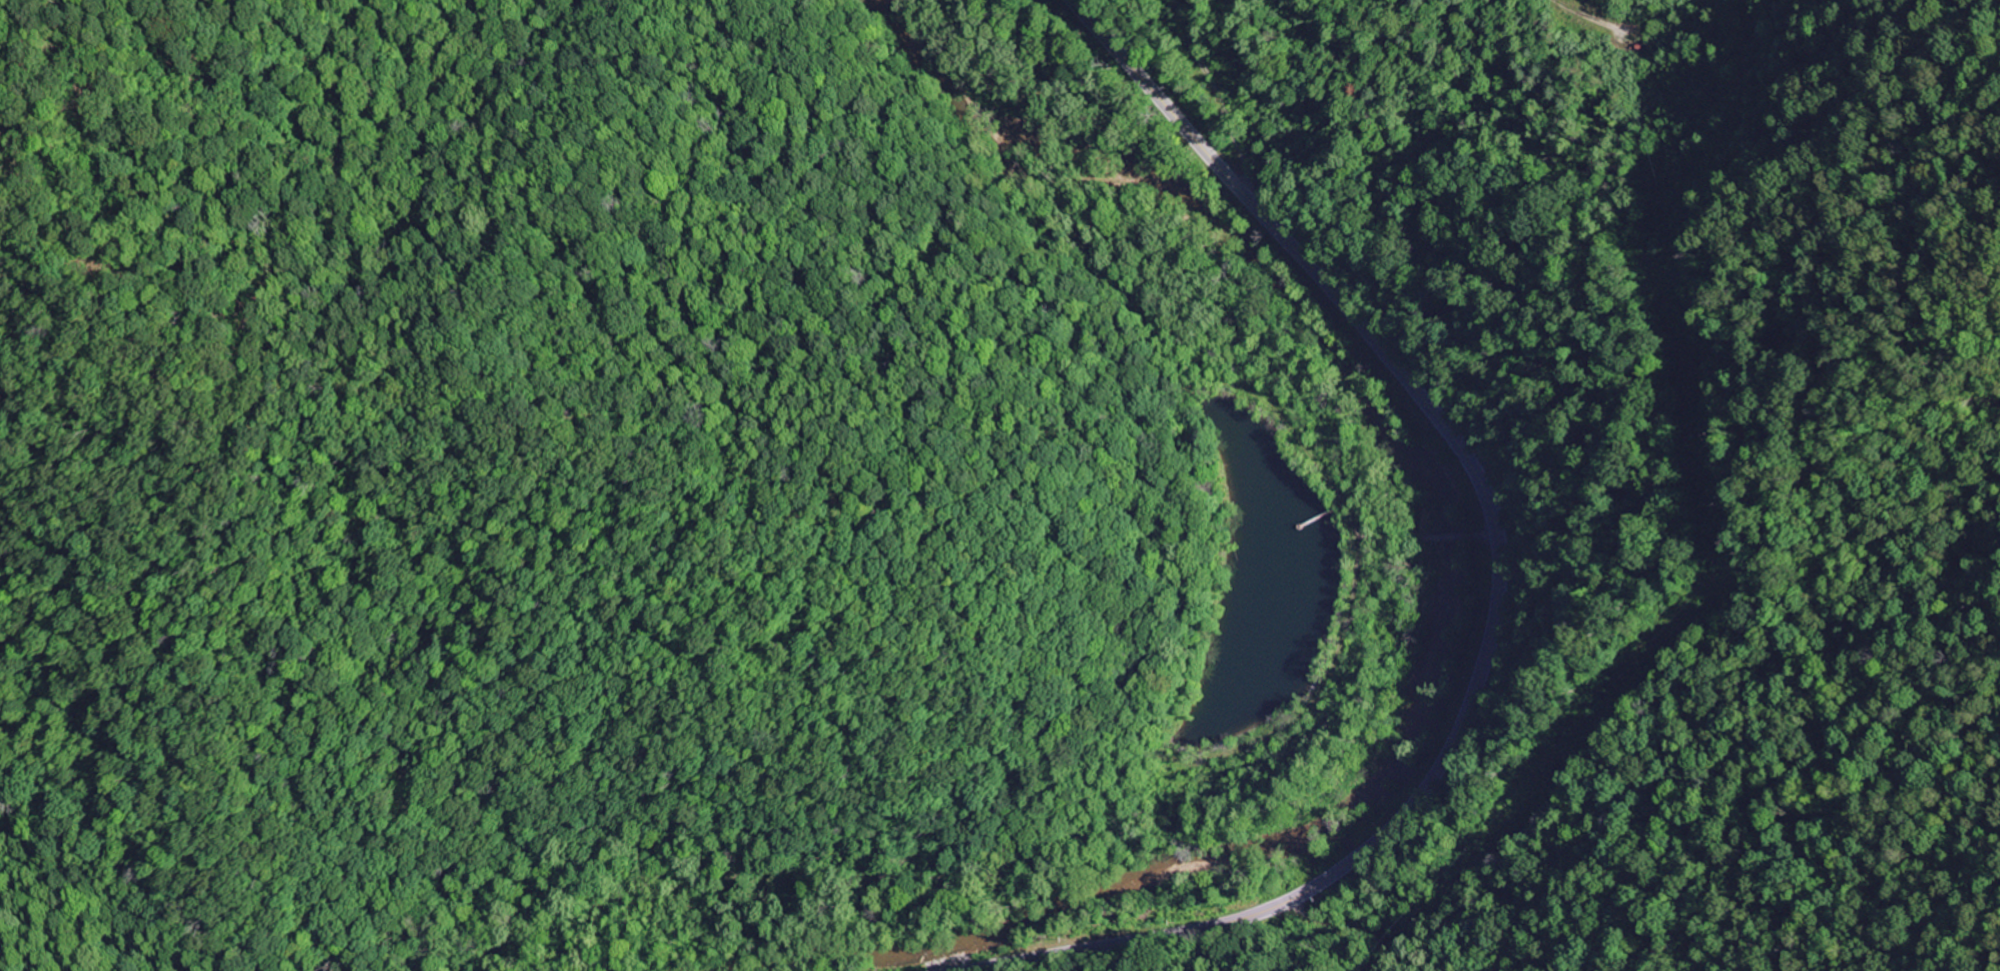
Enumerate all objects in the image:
road: (1499, 589)

